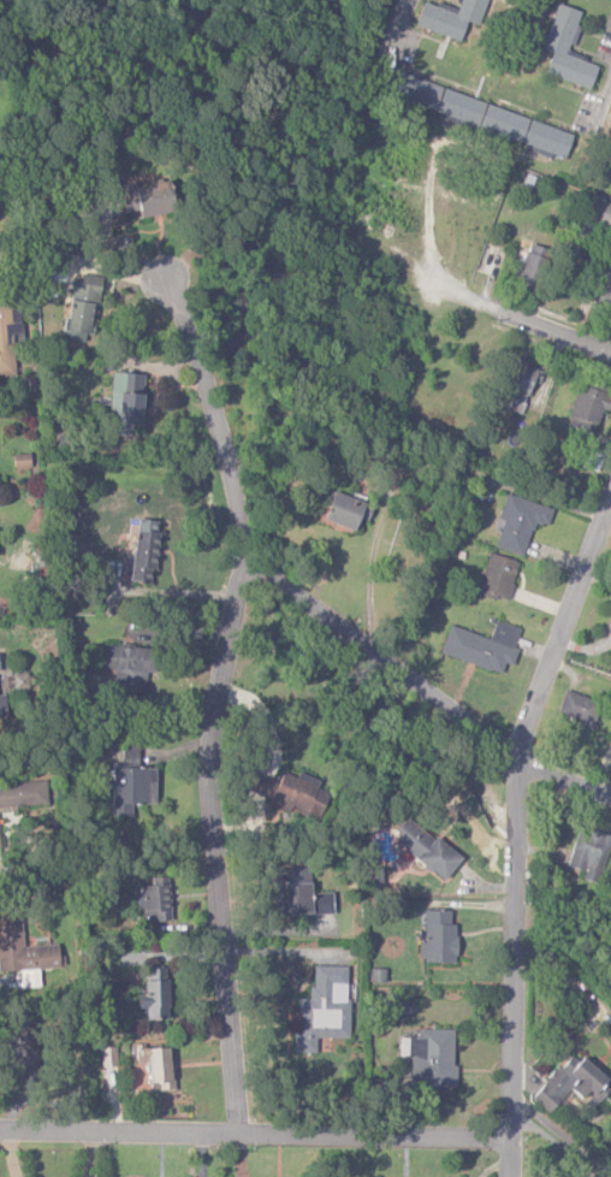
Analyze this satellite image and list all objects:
building: (450, 17)
road: (393, 30)
building: (566, 48)
road: (603, 102)
building: (482, 114)
building: (149, 199)
building: (601, 213)
road: (431, 220)
building: (532, 268)
building: (605, 297)
building: (82, 306)
road: (521, 317)
building: (6, 339)
building: (520, 386)
building: (126, 400)
road: (210, 407)
building: (586, 410)
building: (346, 509)
building: (520, 522)
building: (144, 550)
road: (368, 573)
building: (498, 576)
building: (482, 646)
road: (380, 657)
building: (130, 667)
building: (2, 706)
building: (580, 708)
road: (562, 777)
building: (131, 783)
building: (292, 792)
building: (23, 794)
road: (514, 829)
road: (210, 844)
building: (0, 845)
building: (426, 848)
building: (589, 853)
building: (299, 894)
building: (156, 900)
building: (439, 938)
building: (23, 950)
building: (378, 975)
building: (154, 996)
building: (324, 1009)
building: (398, 1010)
building: (19, 1051)
building: (108, 1057)
building: (434, 1058)
building: (158, 1065)
building: (571, 1084)
road: (254, 1135)

